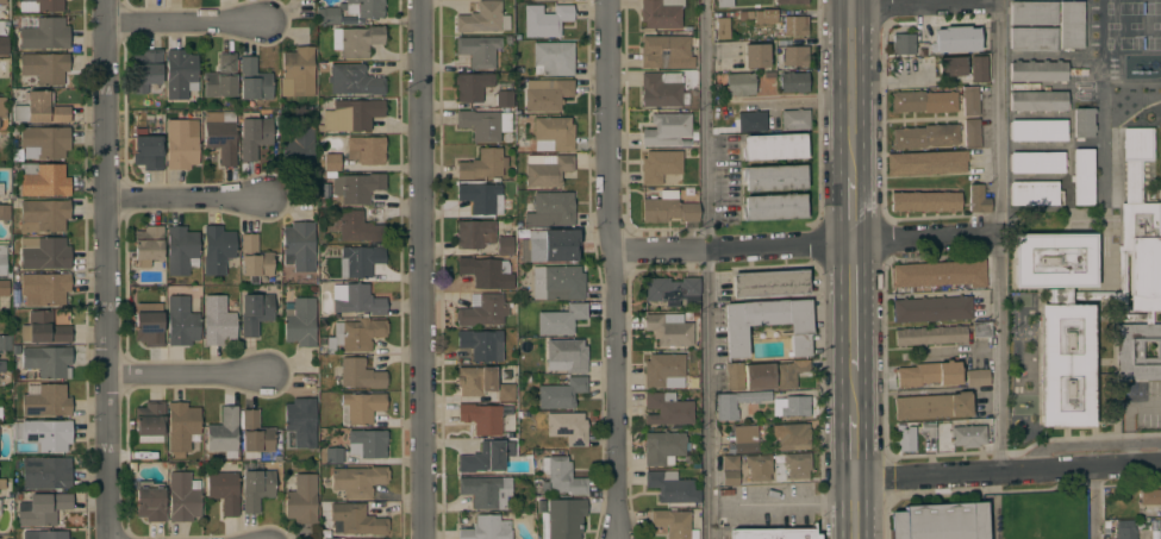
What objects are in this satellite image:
building: (563, 0)
building: (2, 1)
building: (791, 1)
building: (724, 2)
road: (849, 2)
road: (925, 2)
building: (40, 5)
building: (350, 11)
building: (1032, 12)
building: (661, 13)
building: (749, 13)
building: (739, 14)
building: (766, 15)
building: (482, 18)
building: (545, 19)
road: (185, 20)
building: (1071, 24)
building: (722, 26)
building: (793, 26)
building: (43, 32)
building: (955, 38)
building: (1032, 38)
building: (356, 39)
building: (903, 43)
building: (1, 46)
building: (480, 51)
building: (666, 51)
building: (756, 55)
building: (794, 56)
building: (553, 57)
building: (950, 65)
building: (2, 68)
building: (43, 68)
building: (979, 69)
building: (1037, 70)
building: (148, 71)
building: (180, 71)
building: (298, 71)
building: (221, 77)
building: (254, 80)
building: (354, 80)
road: (888, 80)
building: (793, 81)
building: (739, 83)
building: (472, 86)
building: (662, 89)
road: (849, 90)
building: (548, 95)
building: (504, 99)
building: (969, 100)
building: (1038, 100)
building: (923, 101)
building: (2, 107)
building: (40, 108)
building: (350, 115)
building: (795, 119)
building: (751, 120)
building: (1084, 123)
building: (483, 124)
building: (666, 129)
building: (1037, 130)
building: (555, 131)
building: (972, 132)
building: (221, 134)
building: (254, 136)
building: (925, 136)
building: (44, 140)
building: (181, 143)
building: (774, 146)
building: (299, 148)
building: (366, 149)
building: (148, 150)
building: (926, 162)
building: (1037, 162)
building: (331, 163)
building: (482, 164)
building: (660, 165)
building: (547, 169)
building: (774, 176)
building: (1082, 176)
building: (43, 178)
building: (358, 187)
building: (1, 189)
building: (1035, 193)
road: (186, 196)
building: (481, 198)
building: (978, 199)
building: (925, 201)
building: (775, 206)
building: (668, 207)
building: (549, 209)
road: (849, 209)
building: (5, 212)
building: (43, 214)
building: (358, 227)
building: (475, 233)
building: (1137, 234)
road: (999, 237)
road: (805, 243)
building: (148, 245)
building: (299, 245)
building: (505, 245)
building: (549, 245)
building: (217, 249)
building: (181, 250)
building: (44, 252)
building: (254, 256)
building: (2, 259)
building: (360, 259)
road: (106, 269)
road: (420, 269)
road: (612, 269)
road: (707, 269)
building: (486, 271)
building: (940, 272)
building: (561, 282)
building: (769, 283)
building: (4, 287)
building: (44, 288)
building: (672, 290)
building: (356, 299)
road: (850, 306)
building: (932, 308)
building: (483, 311)
building: (255, 312)
building: (561, 319)
building: (218, 320)
building: (181, 321)
building: (1061, 321)
building: (149, 322)
building: (300, 322)
building: (768, 322)
building: (981, 327)
building: (44, 328)
building: (669, 328)
building: (355, 334)
building: (930, 334)
building: (5, 341)
building: (481, 344)
building: (1136, 351)
building: (567, 355)
building: (48, 361)
building: (2, 365)
building: (664, 370)
building: (789, 372)
road: (186, 374)
building: (360, 374)
building: (929, 374)
building: (735, 376)
building: (760, 376)
building: (976, 377)
building: (475, 380)
building: (505, 391)
building: (561, 393)
road: (851, 393)
building: (46, 400)
building: (795, 406)
building: (932, 406)
building: (361, 407)
building: (725, 407)
building: (667, 408)
building: (1, 414)
building: (481, 418)
building: (301, 420)
building: (150, 421)
road: (1128, 421)
building: (182, 427)
building: (568, 427)
building: (929, 430)
building: (224, 431)
building: (48, 433)
building: (255, 435)
building: (793, 435)
building: (968, 435)
building: (745, 438)
building: (905, 438)
building: (368, 443)
building: (662, 447)
road: (851, 449)
building: (333, 455)
building: (486, 457)
building: (730, 462)
building: (798, 464)
building: (759, 466)
building: (44, 471)
road: (1006, 475)
building: (563, 477)
building: (730, 477)
building: (357, 480)
building: (2, 483)
building: (672, 487)
building: (256, 488)
building: (224, 490)
building: (485, 490)
building: (183, 496)
building: (1150, 496)
building: (300, 497)
building: (150, 501)
road: (1093, 504)
road: (781, 507)
building: (43, 508)
road: (854, 509)
building: (561, 518)
building: (357, 519)
building: (942, 520)
building: (673, 522)
building: (487, 528)
building: (1125, 528)
building: (1159, 528)
building: (773, 533)
building: (45, 534)

